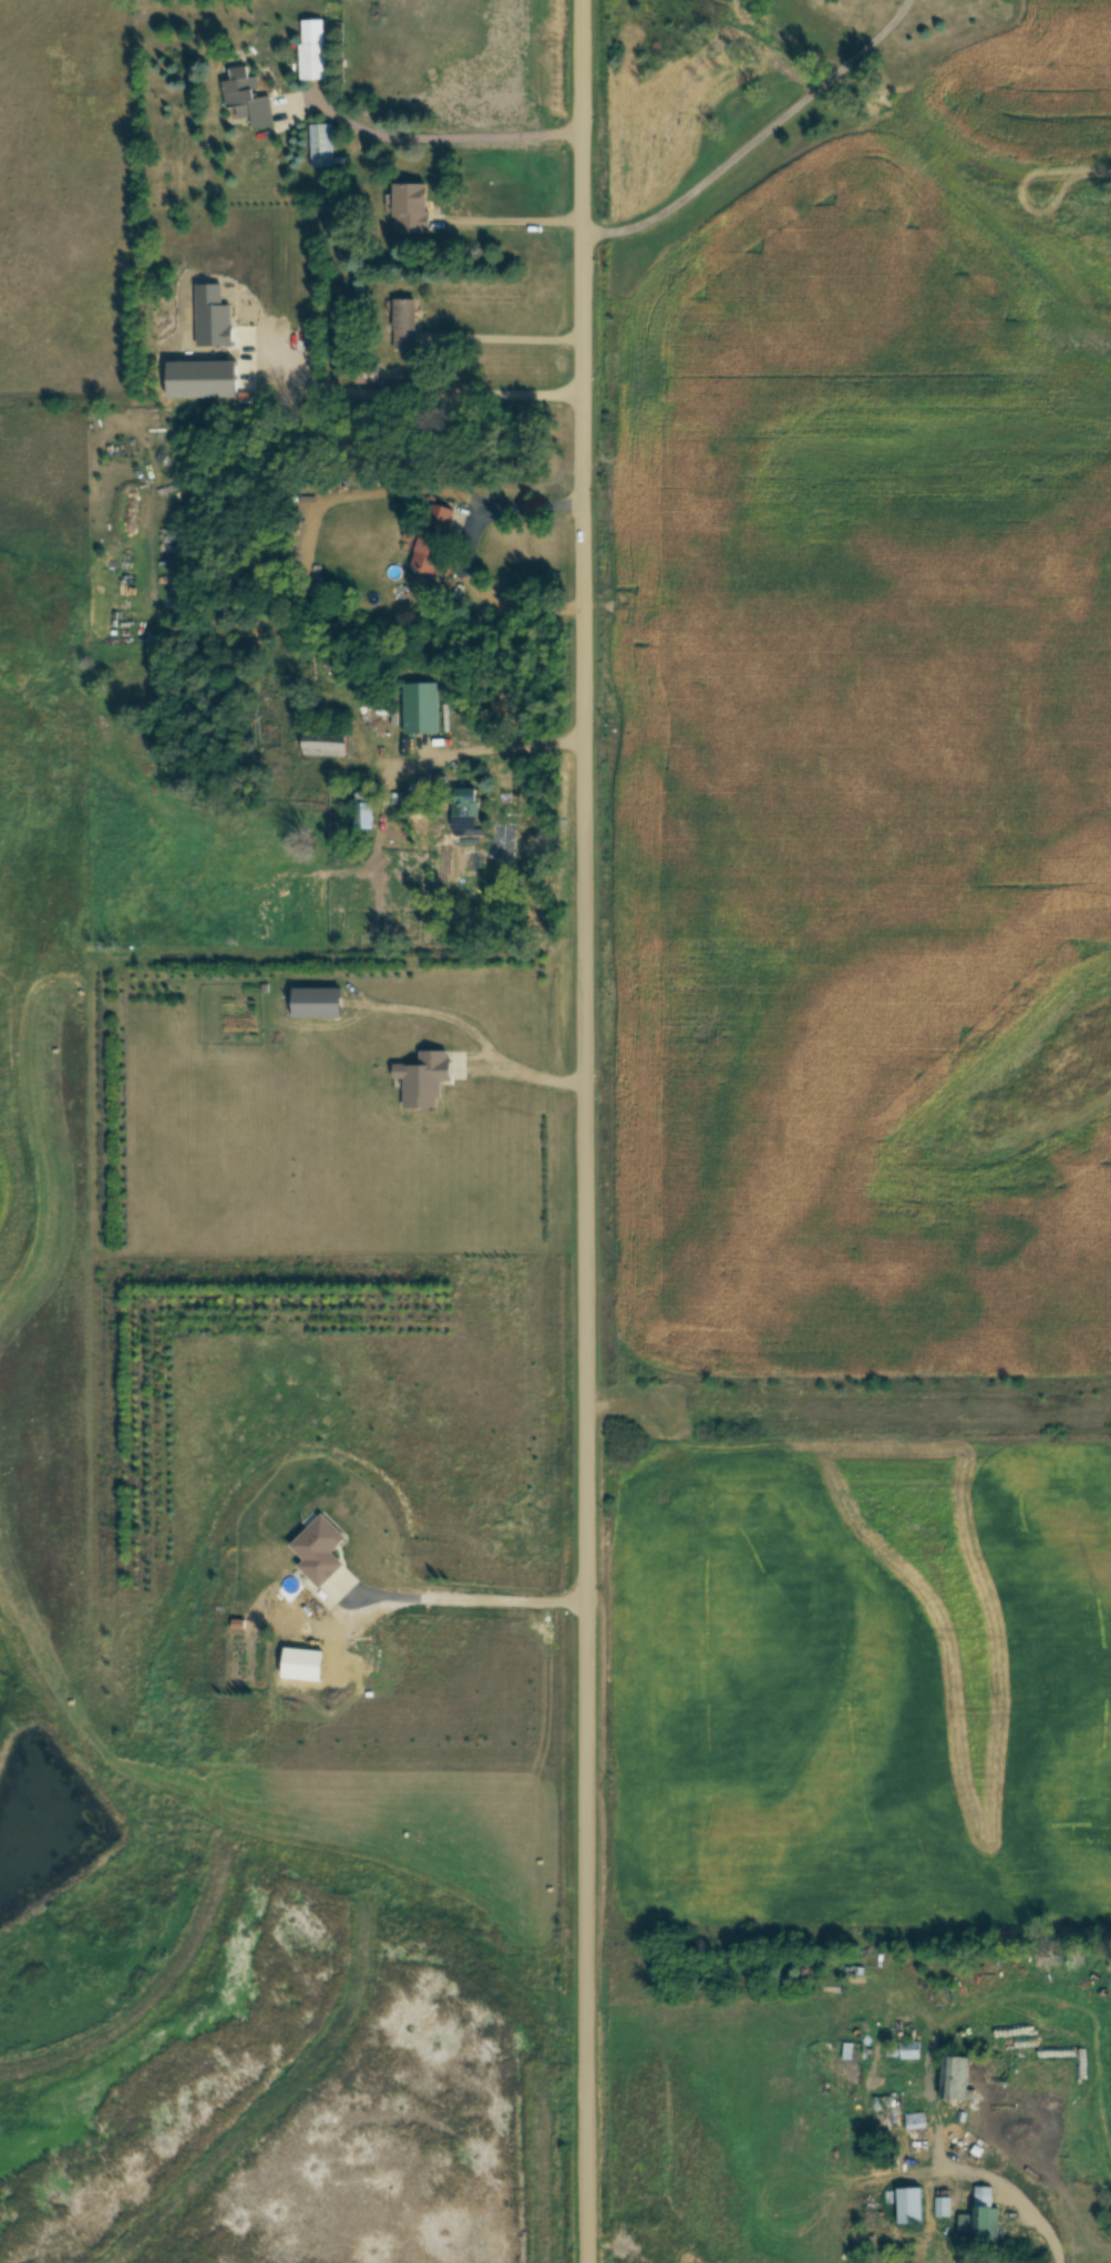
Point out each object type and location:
building: (315, 62)
building: (248, 99)
road: (432, 136)
road: (757, 137)
building: (322, 146)
building: (412, 209)
road: (513, 219)
building: (405, 325)
road: (507, 338)
building: (367, 373)
road: (409, 393)
building: (432, 540)
road: (467, 554)
building: (421, 709)
crop: (875, 743)
building: (327, 745)
road: (486, 748)
building: (466, 803)
building: (363, 819)
building: (318, 1002)
building: (425, 1077)
road: (585, 1131)
crop: (6, 1219)
building: (321, 1550)
road: (469, 1599)
crop: (871, 1692)
building: (911, 2049)
building: (854, 2051)
building: (958, 2078)
building: (887, 2102)
building: (916, 2121)
building: (944, 2206)
building: (914, 2208)
building: (983, 2215)

